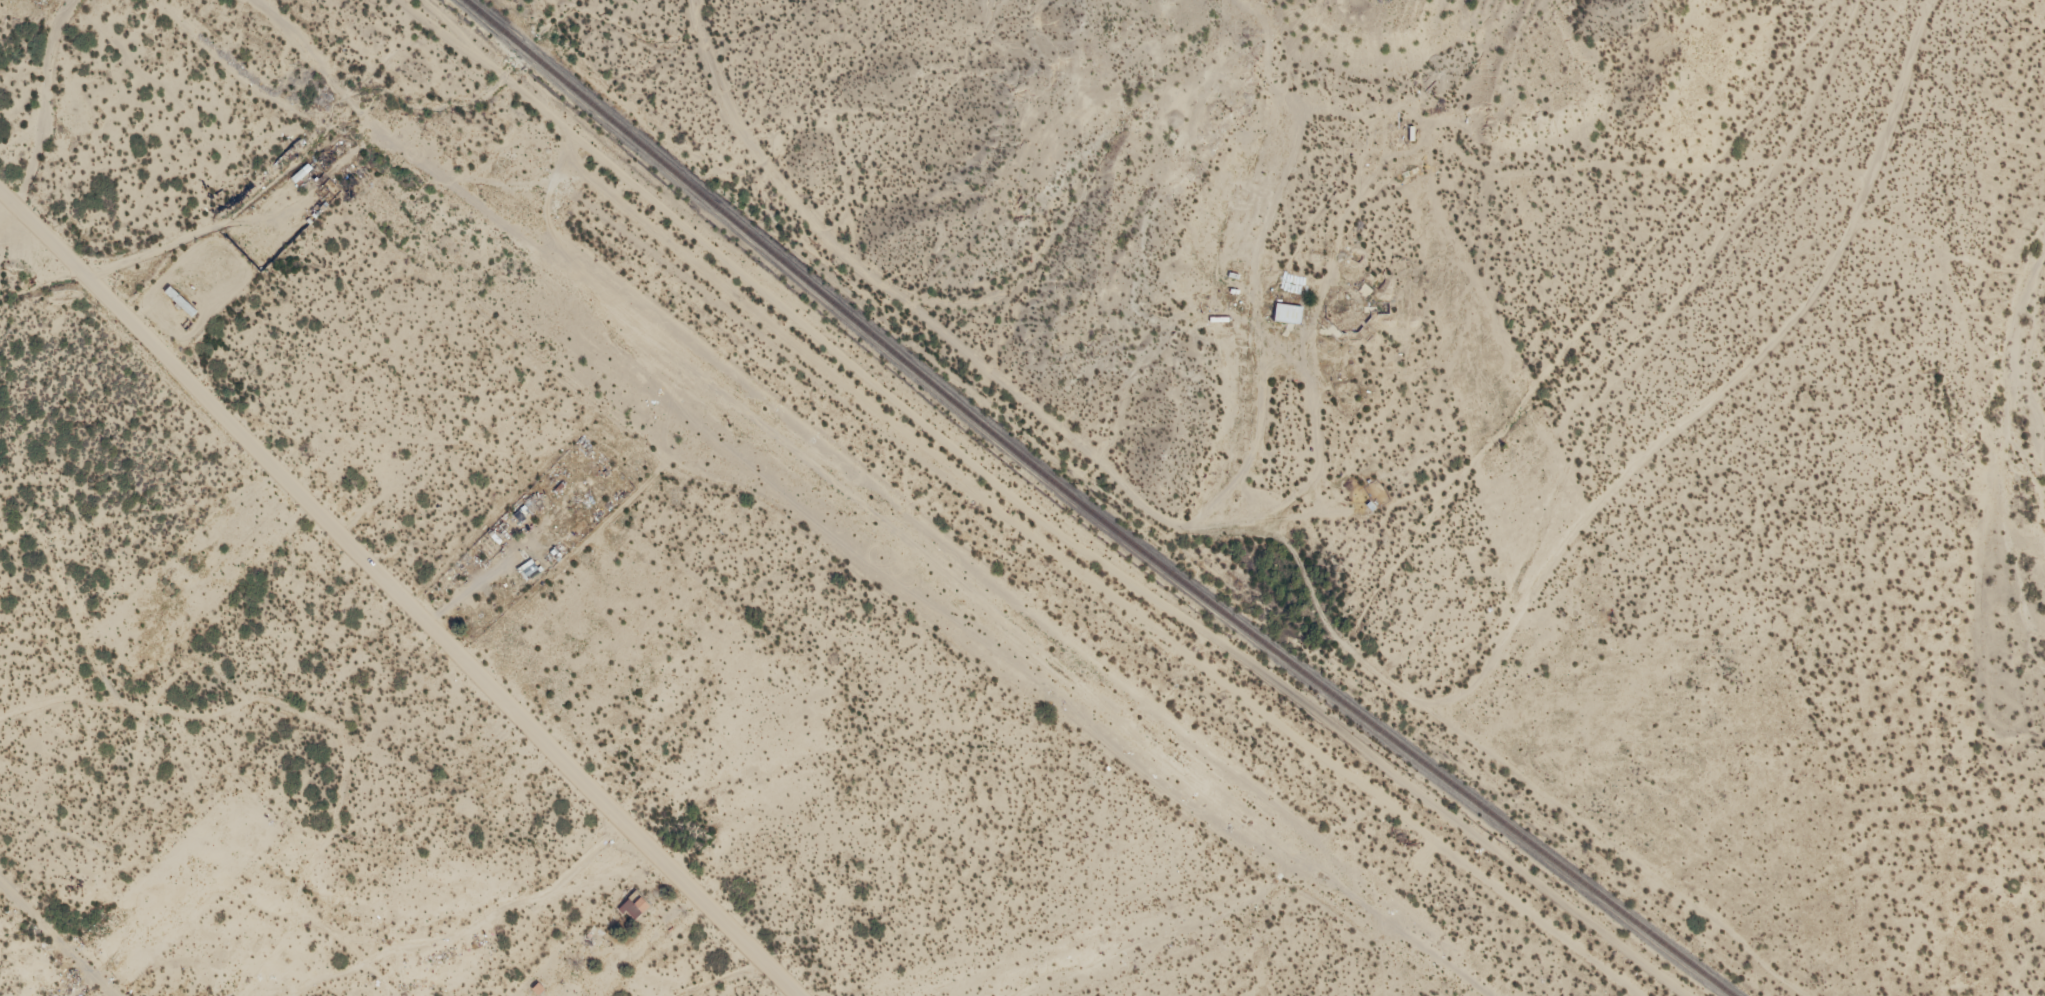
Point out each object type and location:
road: (365, 125)
building: (180, 300)
building: (1289, 310)
railway: (959, 498)
railway: (1086, 509)
road: (393, 595)
airport runway: (1006, 622)
building: (635, 902)
airport runway: (1172, 939)

